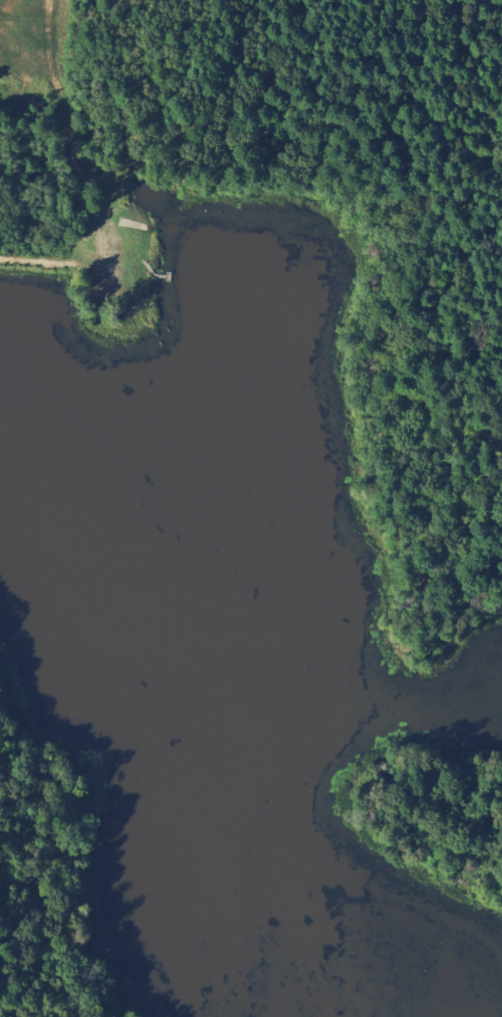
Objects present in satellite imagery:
road: (60, 101)
dam: (146, 196)

